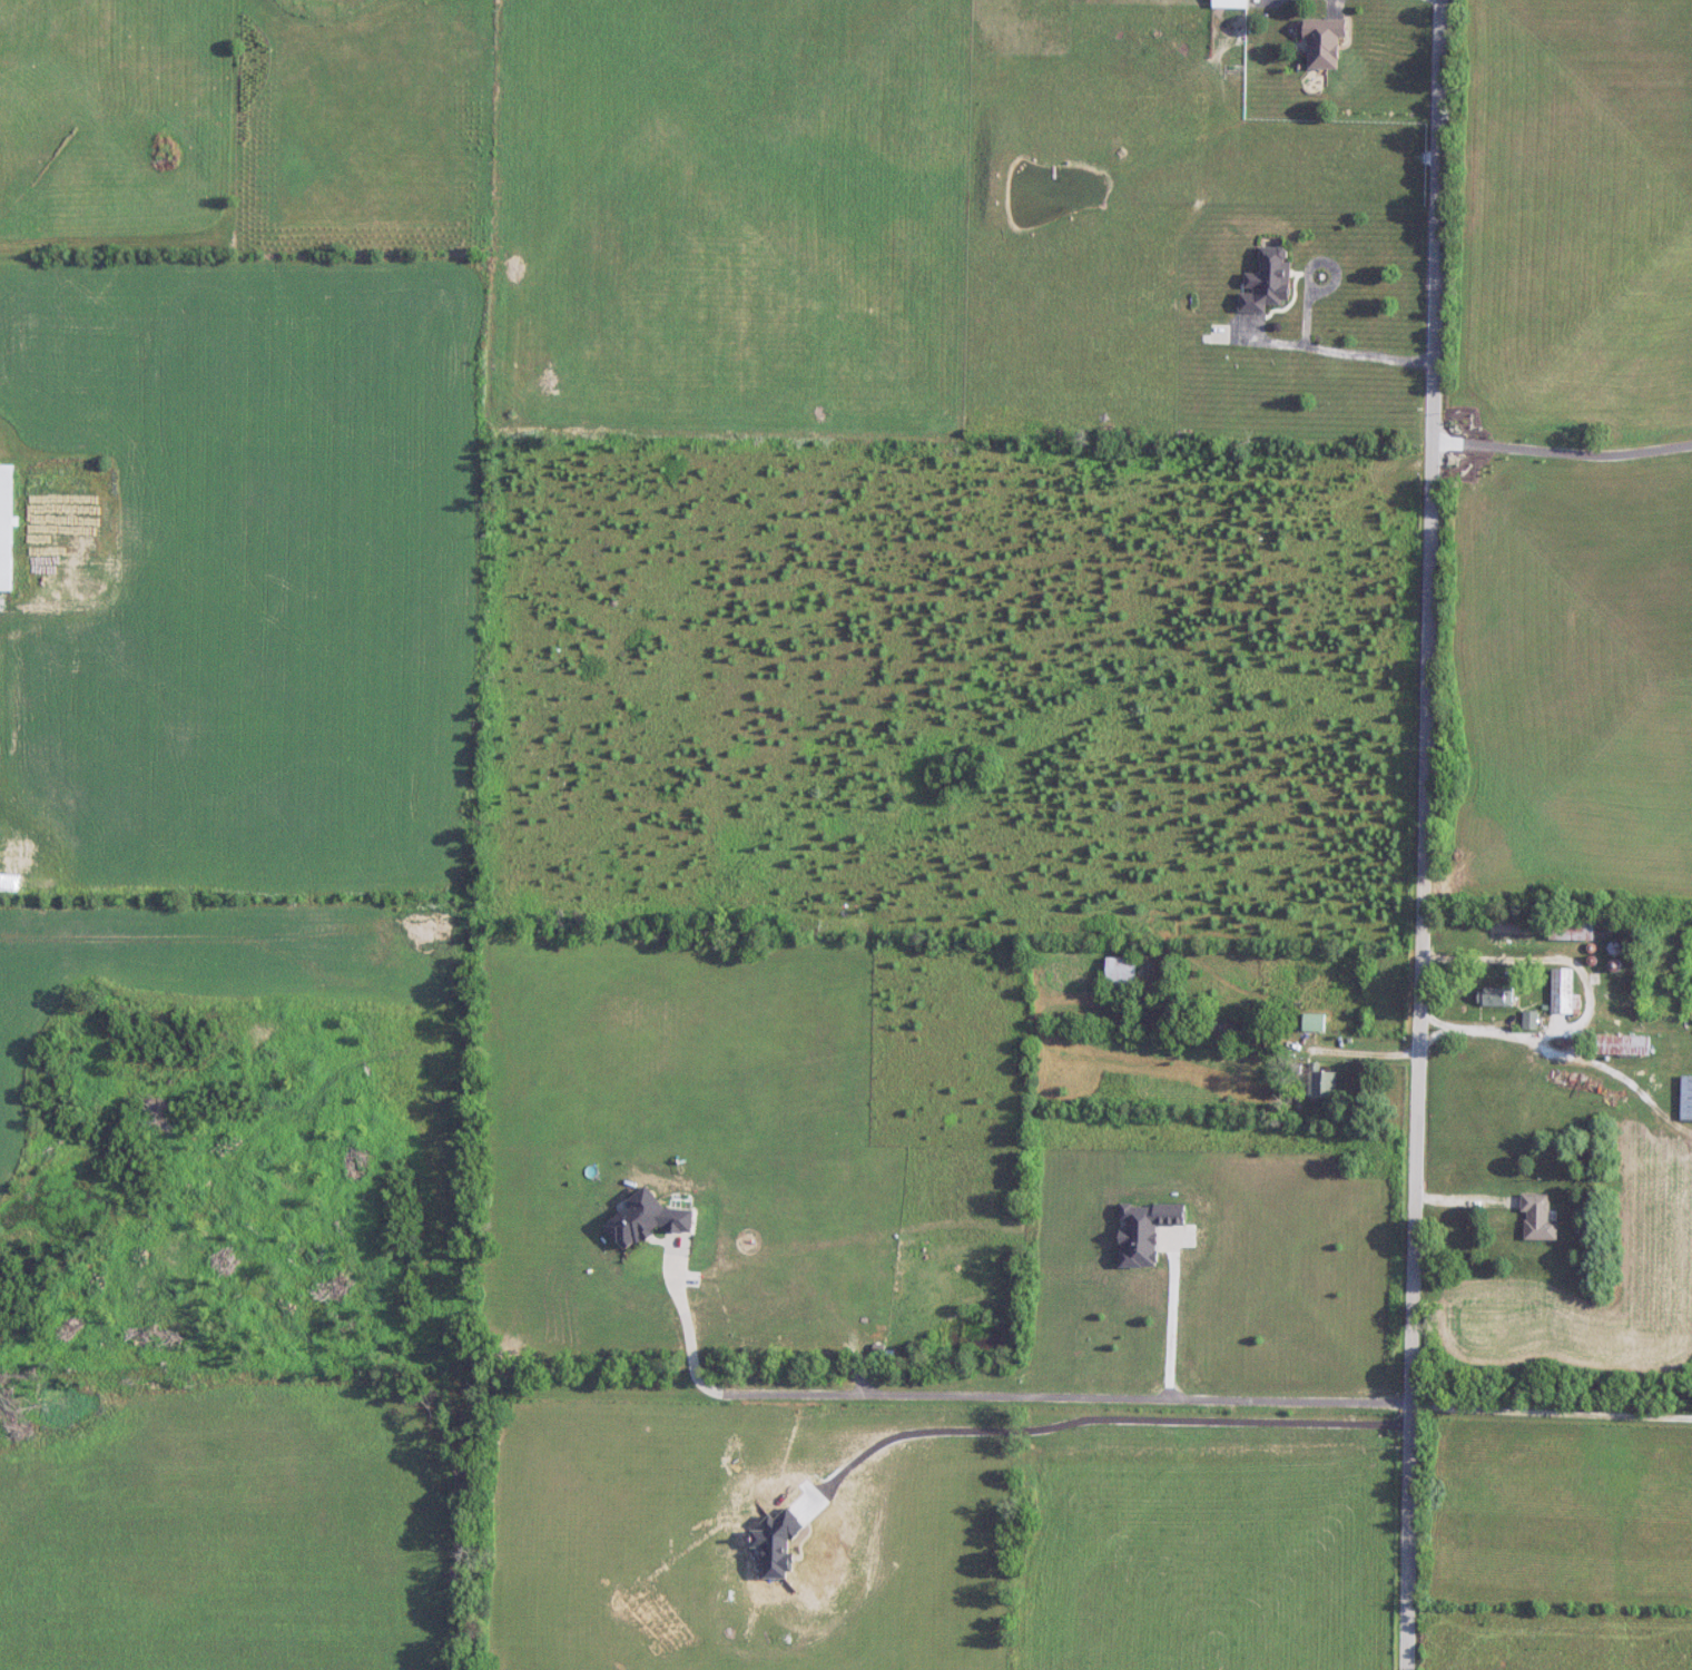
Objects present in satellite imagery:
building: (1228, 4)
road: (1336, 6)
building: (1322, 43)
building: (1266, 283)
road: (1341, 351)
road: (1566, 452)
building: (7, 528)
road: (1432, 835)
building: (1571, 927)
building: (1120, 974)
building: (1564, 993)
building: (1495, 996)
building: (1531, 1020)
building: (1312, 1023)
building: (1623, 1045)
building: (1321, 1082)
building: (1686, 1099)
building: (1538, 1218)
road: (991, 1397)
road: (1555, 1414)
road: (1100, 1418)

